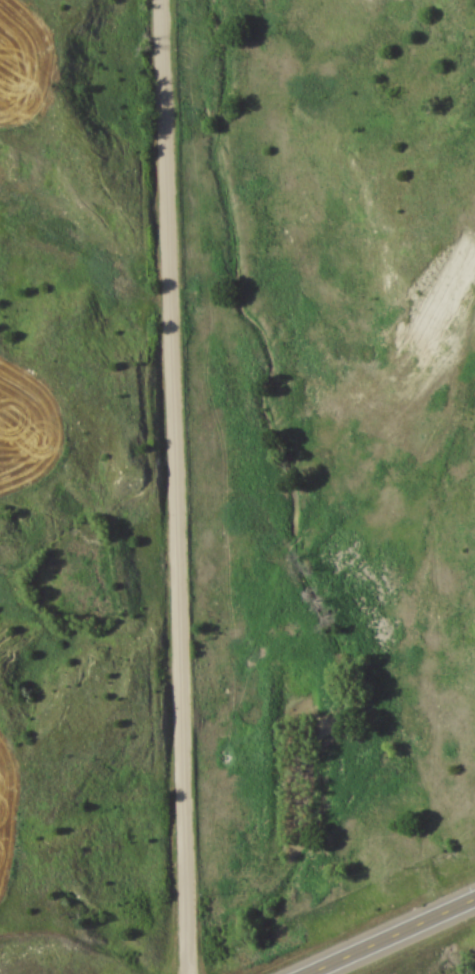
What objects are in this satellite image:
road: (179, 486)
road: (396, 938)

